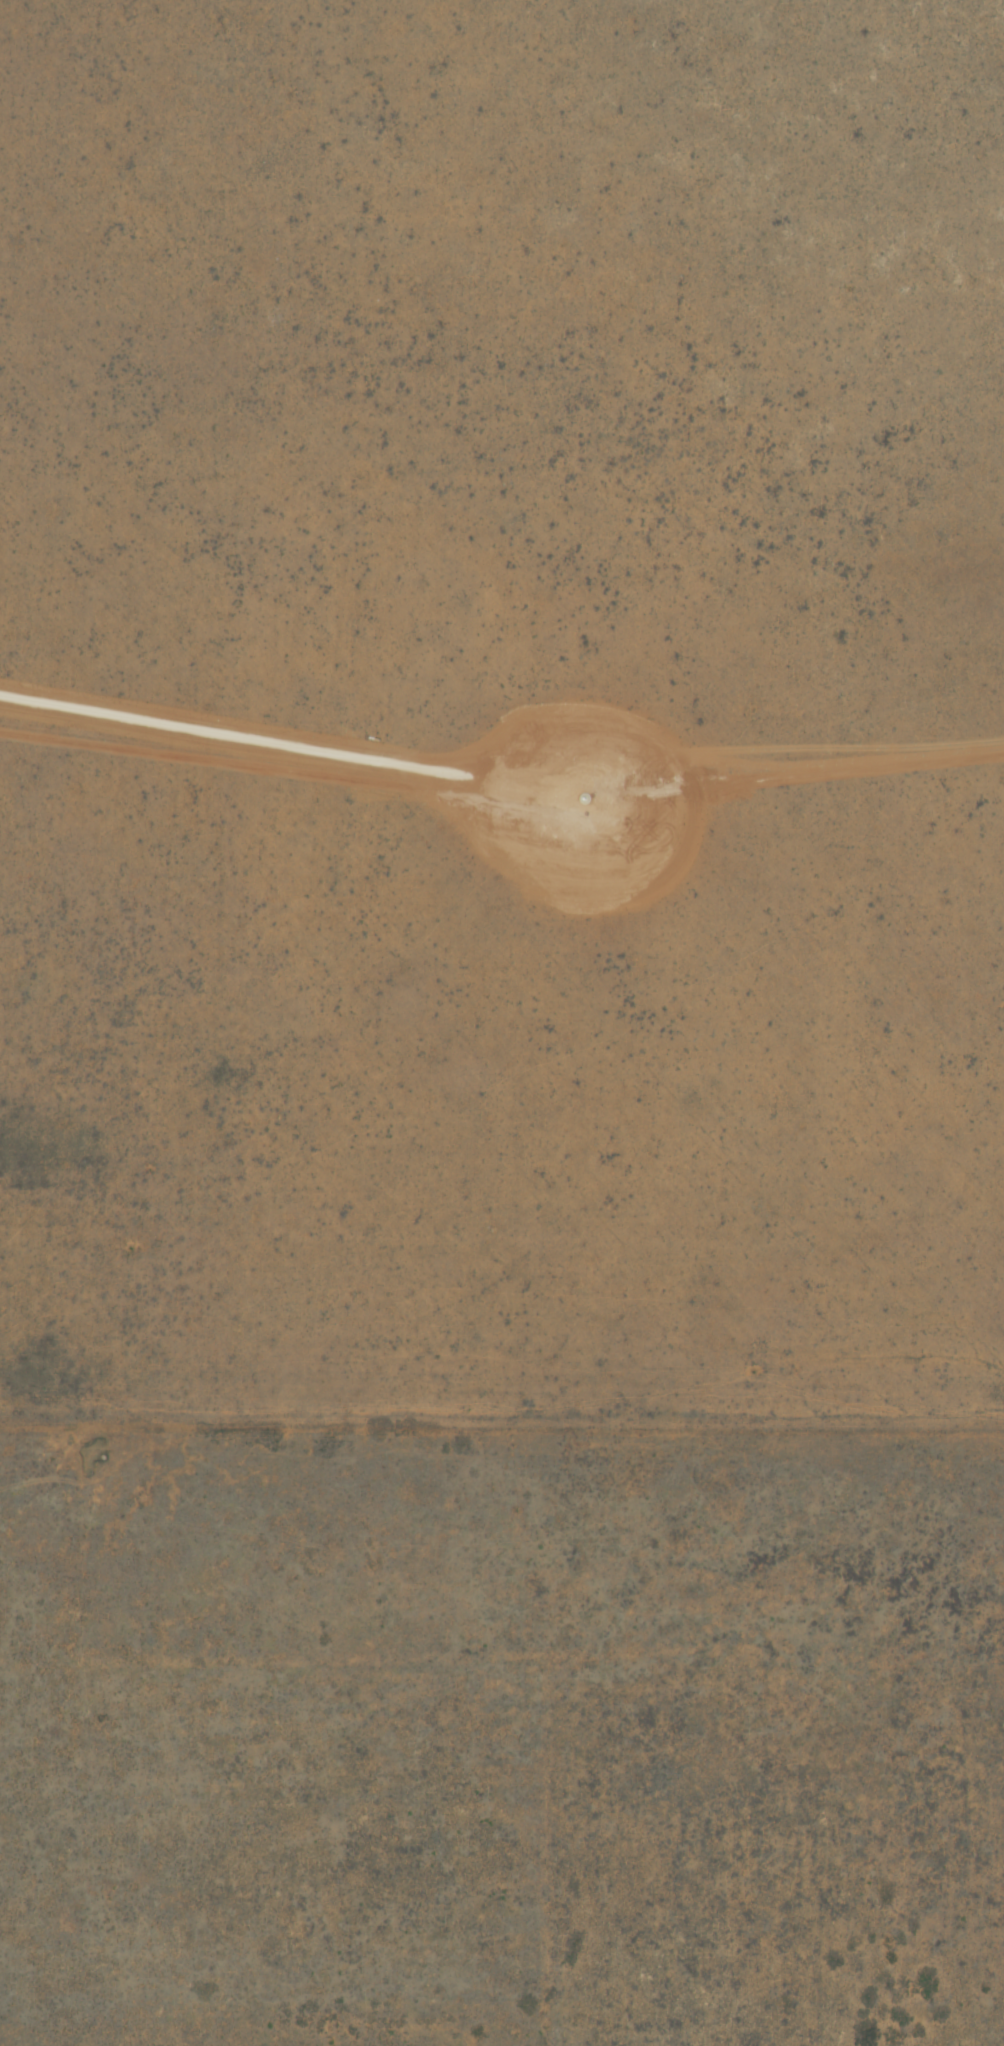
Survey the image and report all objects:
wind turbine: (572, 799)

